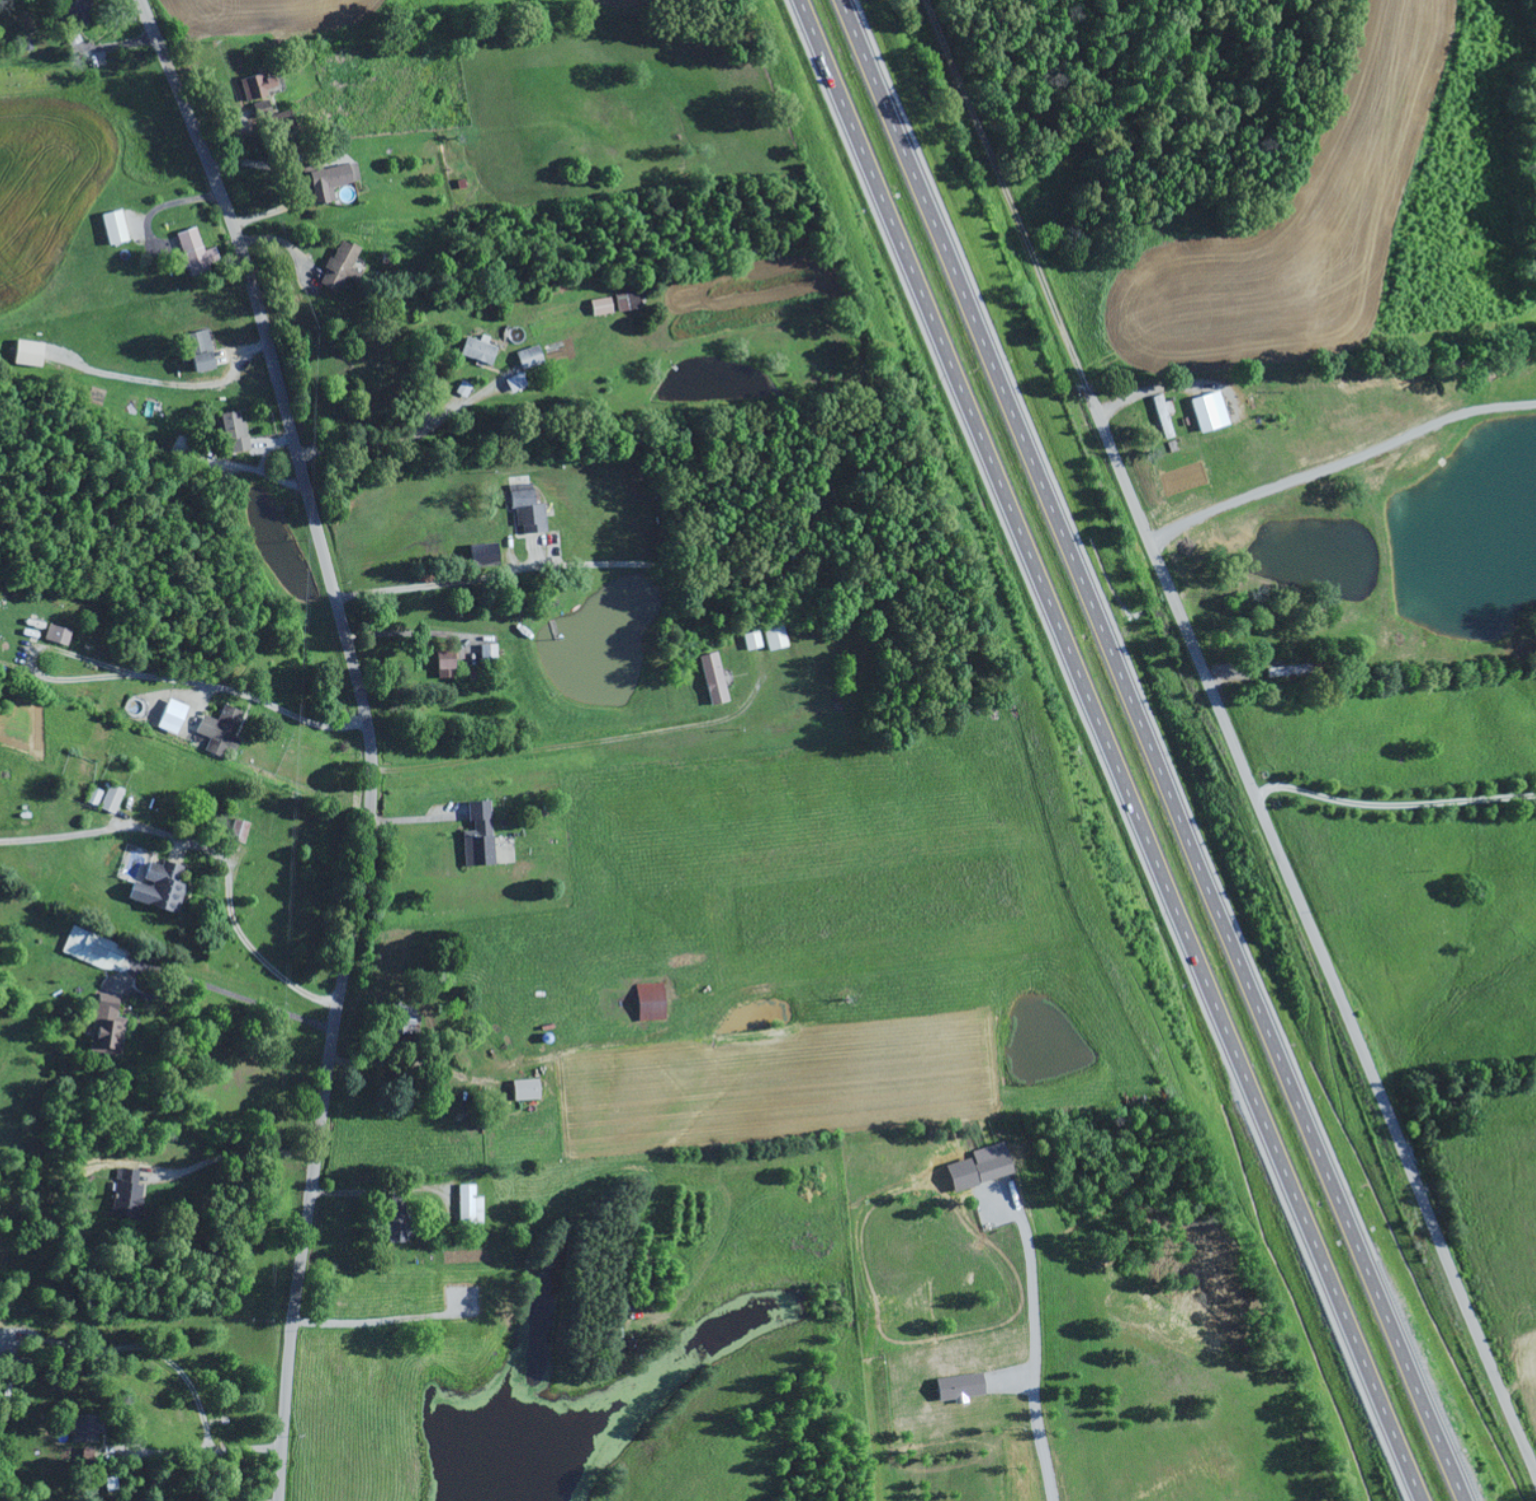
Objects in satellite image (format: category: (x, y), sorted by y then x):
building: (77, 13)
building: (254, 87)
building: (328, 181)
building: (111, 227)
building: (192, 253)
building: (338, 266)
building: (625, 302)
building: (598, 307)
building: (476, 350)
building: (198, 352)
building: (26, 354)
building: (527, 358)
building: (513, 383)
building: (1208, 412)
building: (232, 433)
building: (525, 512)
building: (484, 556)
building: (55, 635)
building: (773, 636)
building: (750, 641)
building: (487, 655)
building: (712, 679)
building: (169, 717)
building: (219, 732)
road: (366, 736)
road: (1149, 743)
road: (1105, 746)
building: (91, 797)
building: (109, 800)
building: (237, 831)
building: (477, 836)
building: (157, 889)
road: (1311, 936)
building: (92, 950)
building: (648, 1003)
building: (404, 1022)
building: (104, 1027)
building: (524, 1091)
building: (989, 1162)
building: (124, 1194)
building: (468, 1205)
building: (394, 1218)
building: (957, 1388)
building: (82, 1429)
road: (1460, 1493)
road: (1414, 1496)

